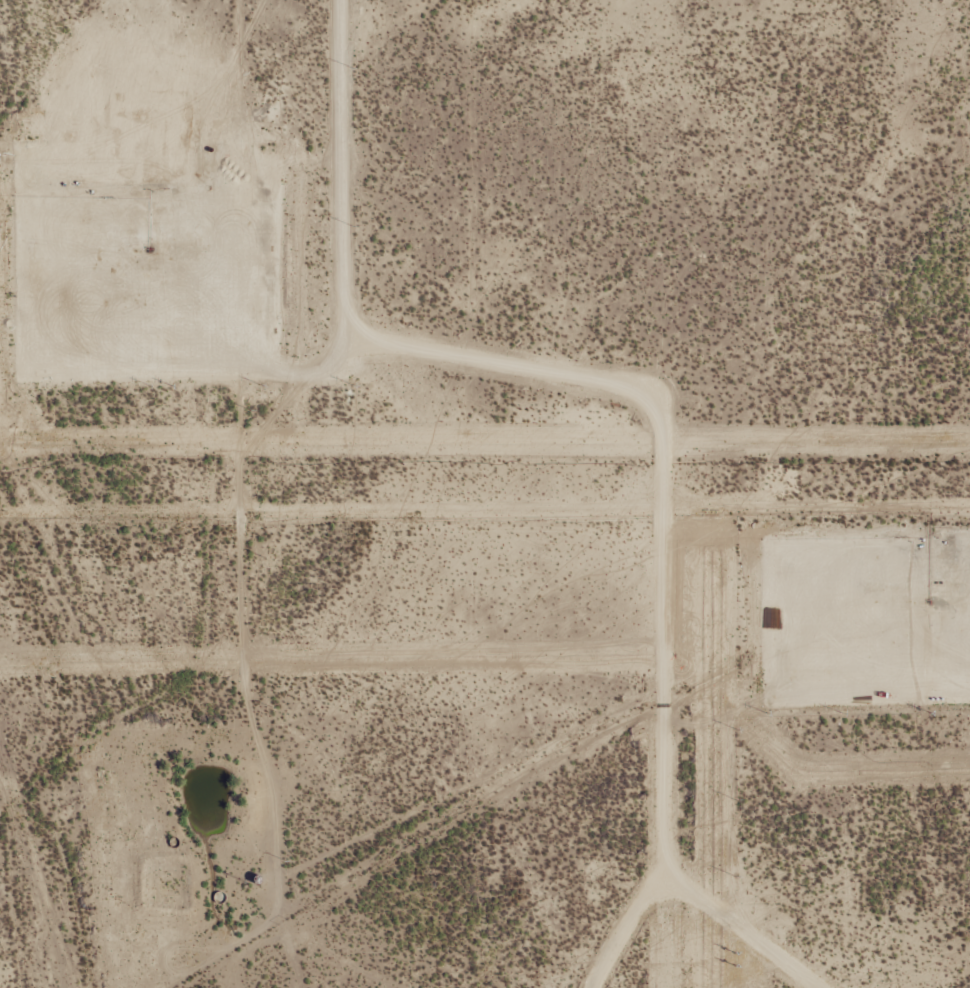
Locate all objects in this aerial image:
road: (232, 710)
road: (12, 939)

